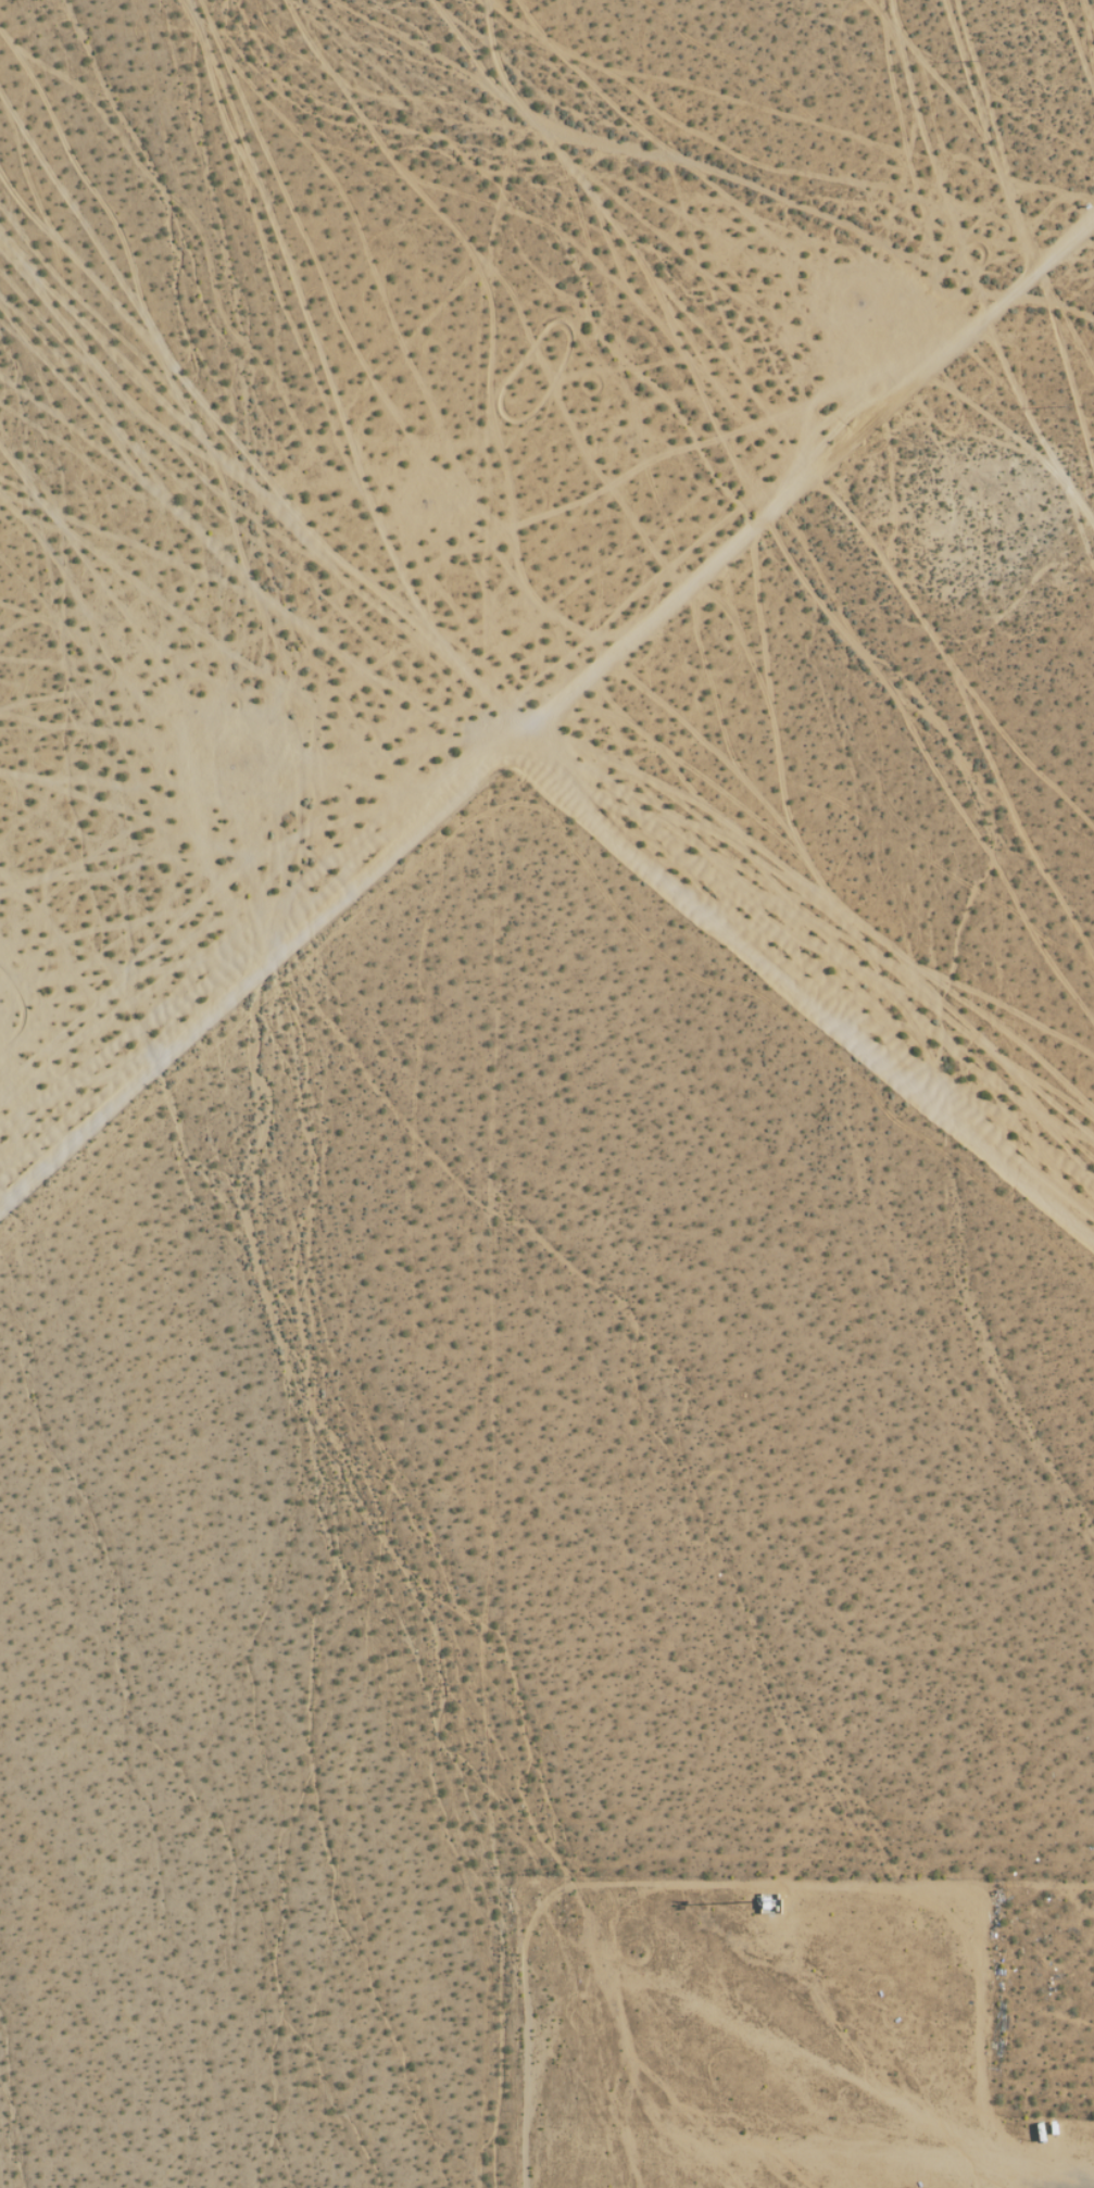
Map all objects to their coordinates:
road: (545, 719)

